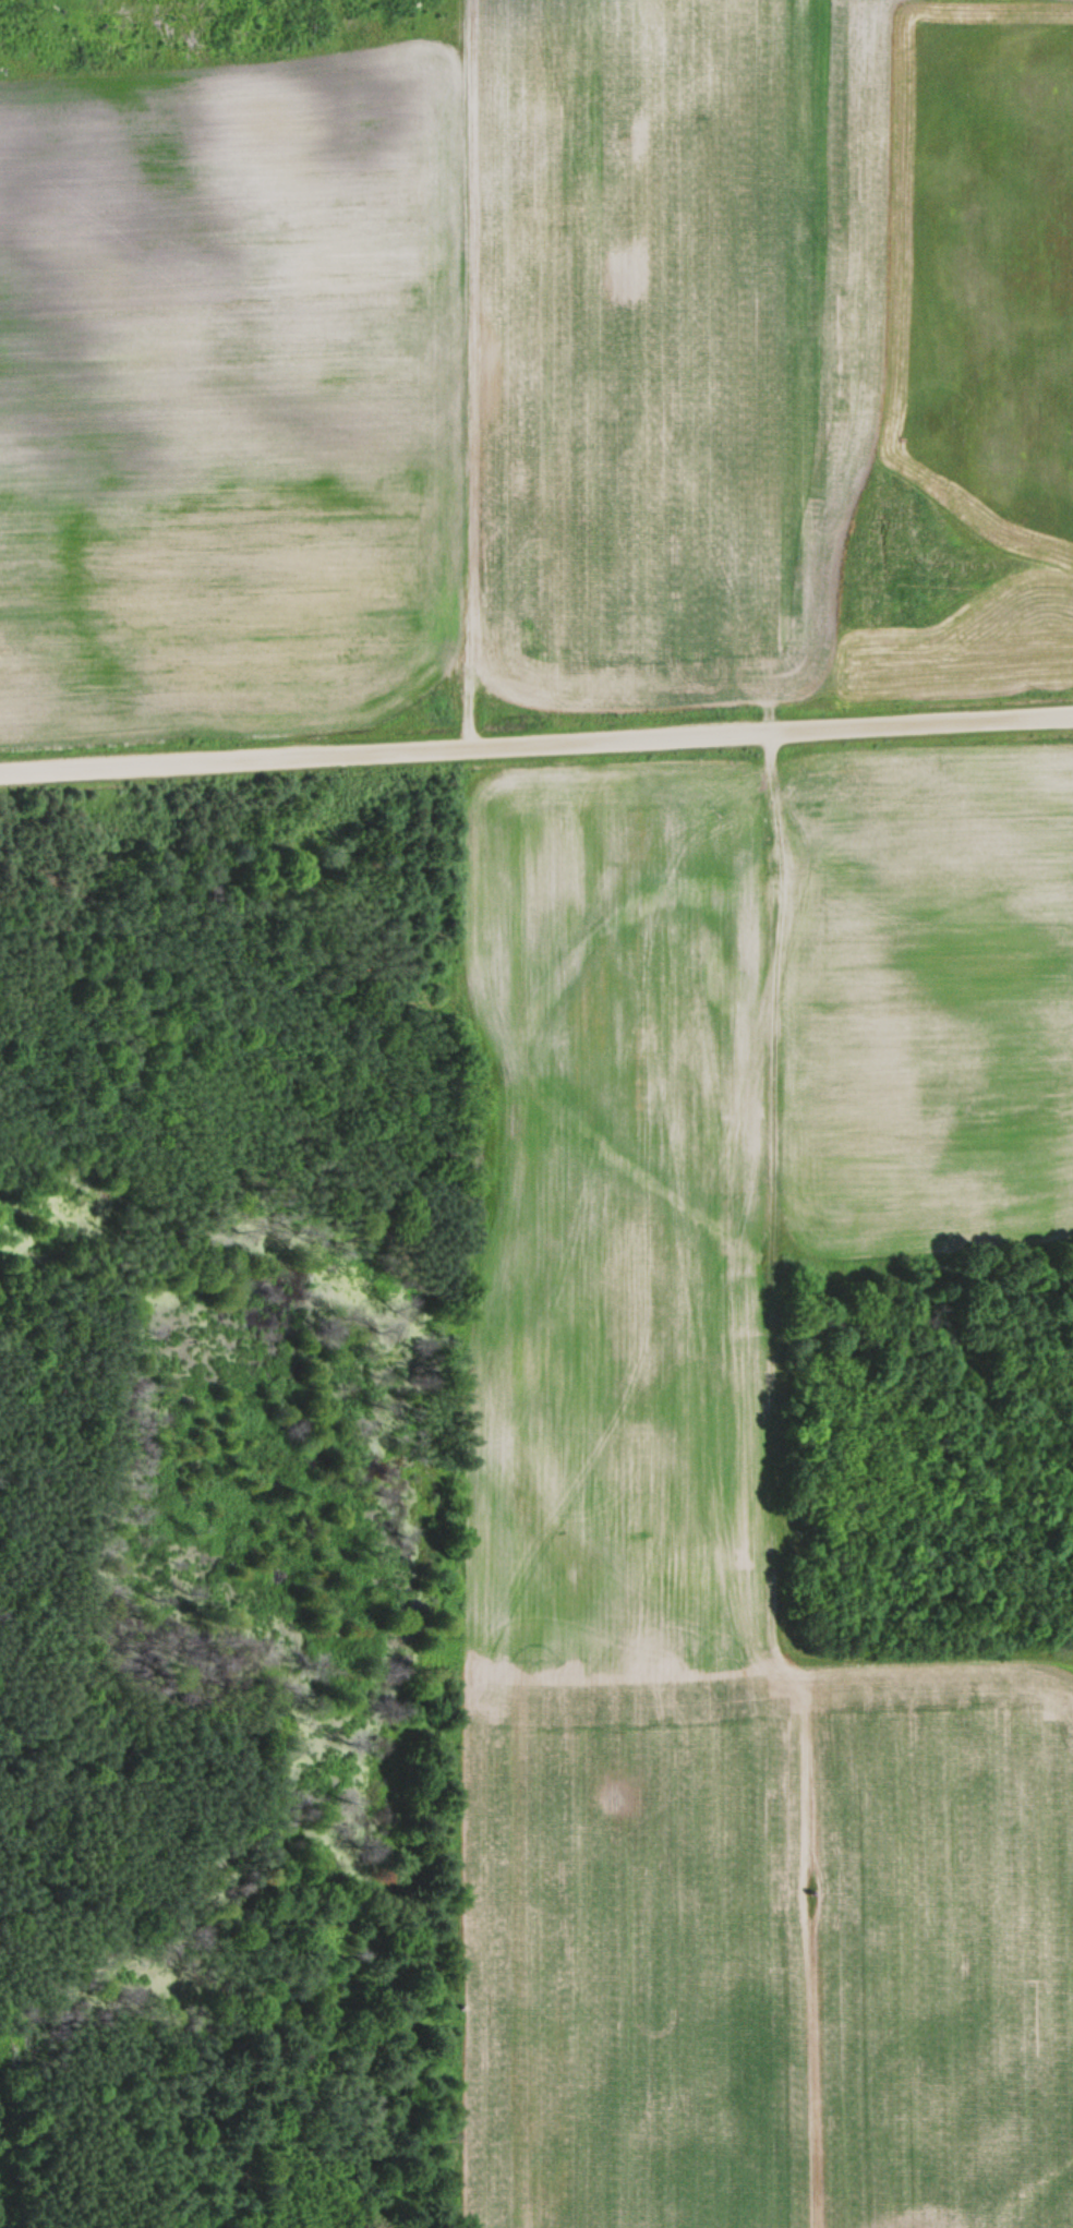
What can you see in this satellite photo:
road: (536, 739)

